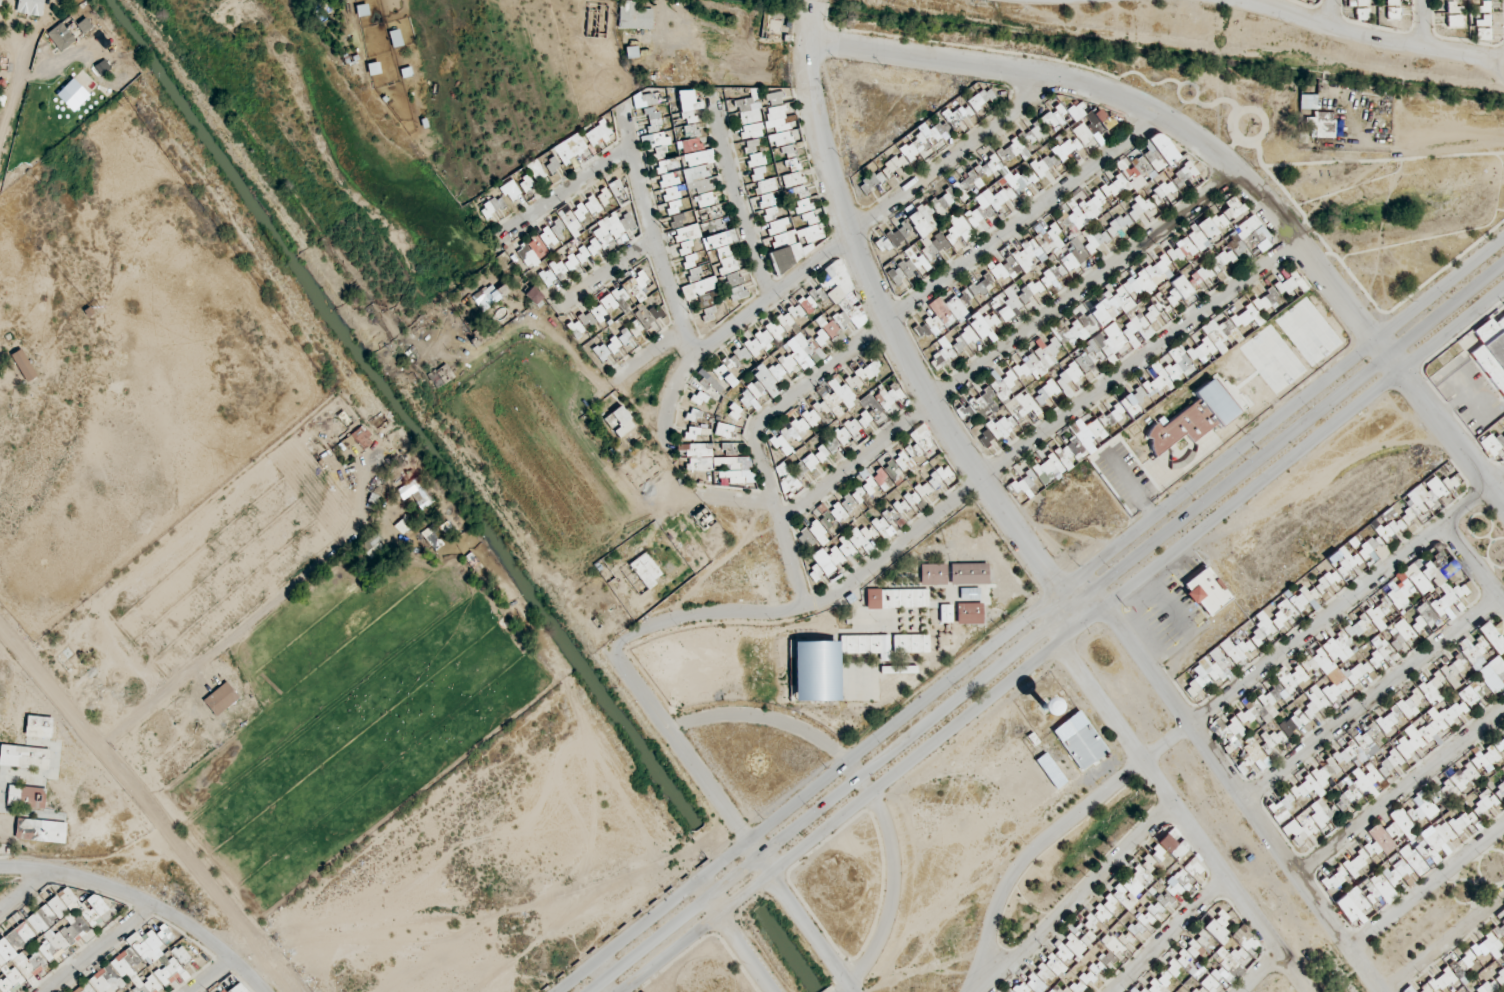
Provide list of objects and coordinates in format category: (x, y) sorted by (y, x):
road: (812, 0)
road: (1330, 14)
road: (1425, 24)
road: (1369, 37)
road: (1501, 72)
road: (1431, 143)
road: (1446, 311)
road: (1452, 329)
road: (1459, 404)
road: (1446, 428)
park: (1488, 533)
road: (1475, 563)
road: (1033, 617)
road: (1208, 712)
road: (1427, 888)
park: (1440, 910)

